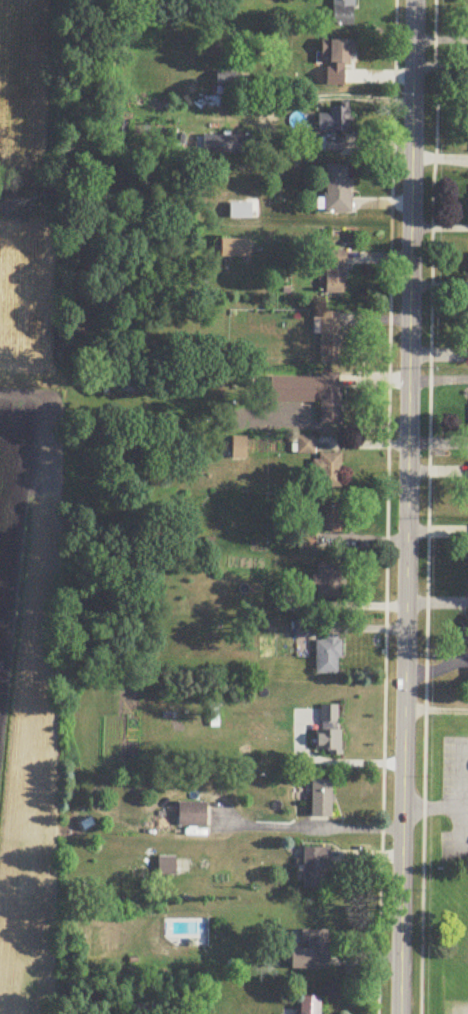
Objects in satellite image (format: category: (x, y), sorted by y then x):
building: (343, 13)
building: (334, 61)
park: (27, 114)
building: (332, 129)
building: (228, 145)
building: (338, 190)
building: (235, 249)
building: (335, 273)
building: (330, 338)
building: (328, 398)
building: (305, 446)
building: (238, 449)
building: (328, 471)
road: (408, 506)
road: (428, 506)
road: (388, 507)
building: (331, 521)
building: (327, 583)
building: (304, 630)
building: (328, 657)
crop: (27, 674)
building: (214, 712)
road: (436, 712)
building: (328, 732)
road: (465, 800)
building: (320, 801)
parking lot: (455, 808)
road: (453, 810)
road: (422, 811)
building: (192, 816)
road: (309, 826)
road: (467, 827)
building: (167, 867)
park: (448, 869)
building: (315, 870)
building: (311, 954)
park: (455, 980)
building: (309, 1006)

